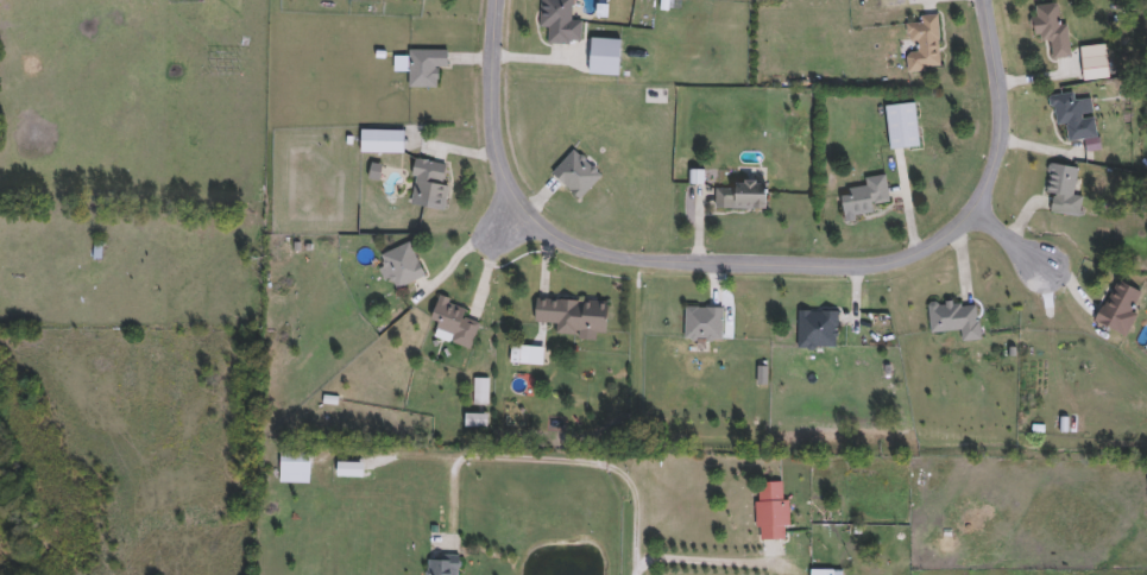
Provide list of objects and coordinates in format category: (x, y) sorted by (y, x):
building: (557, 21)
building: (1051, 29)
building: (922, 44)
building: (1094, 62)
building: (424, 67)
building: (1071, 116)
building: (901, 126)
building: (387, 140)
building: (575, 173)
building: (428, 184)
building: (1061, 190)
building: (740, 196)
building: (863, 198)
road: (487, 232)
road: (1017, 235)
building: (97, 251)
road: (756, 254)
road: (496, 264)
building: (401, 266)
building: (572, 316)
building: (953, 320)
building: (452, 324)
building: (702, 324)
building: (815, 330)
building: (525, 355)
building: (479, 392)
road: (522, 457)
building: (292, 467)
building: (770, 511)
road: (706, 561)
building: (441, 565)
road: (635, 568)
building: (825, 573)

